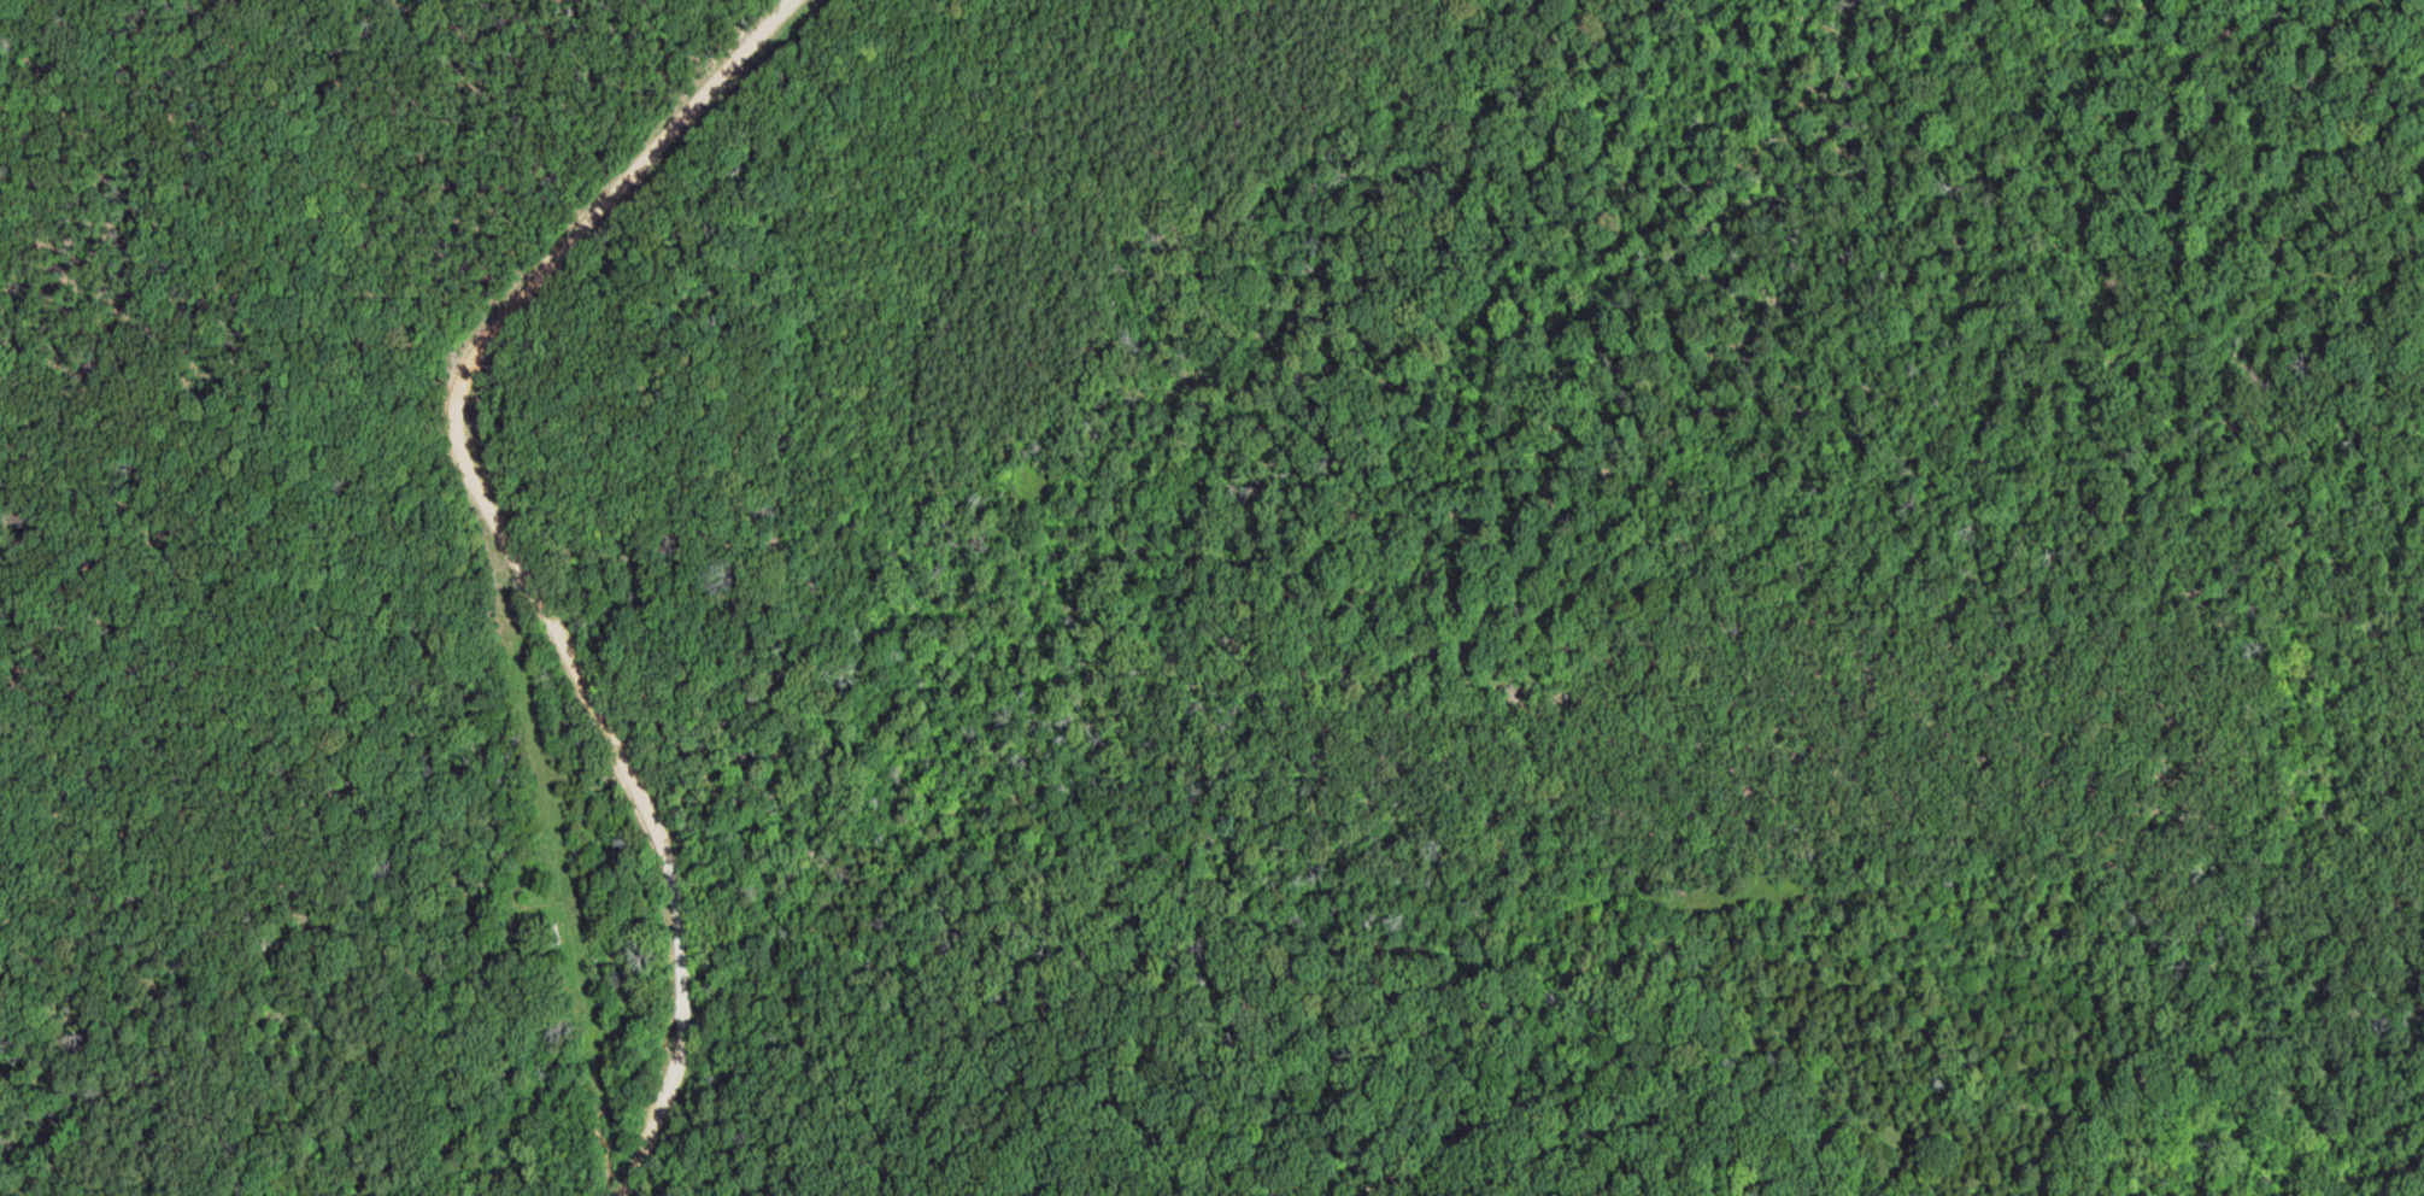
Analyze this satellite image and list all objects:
road: (556, 584)

